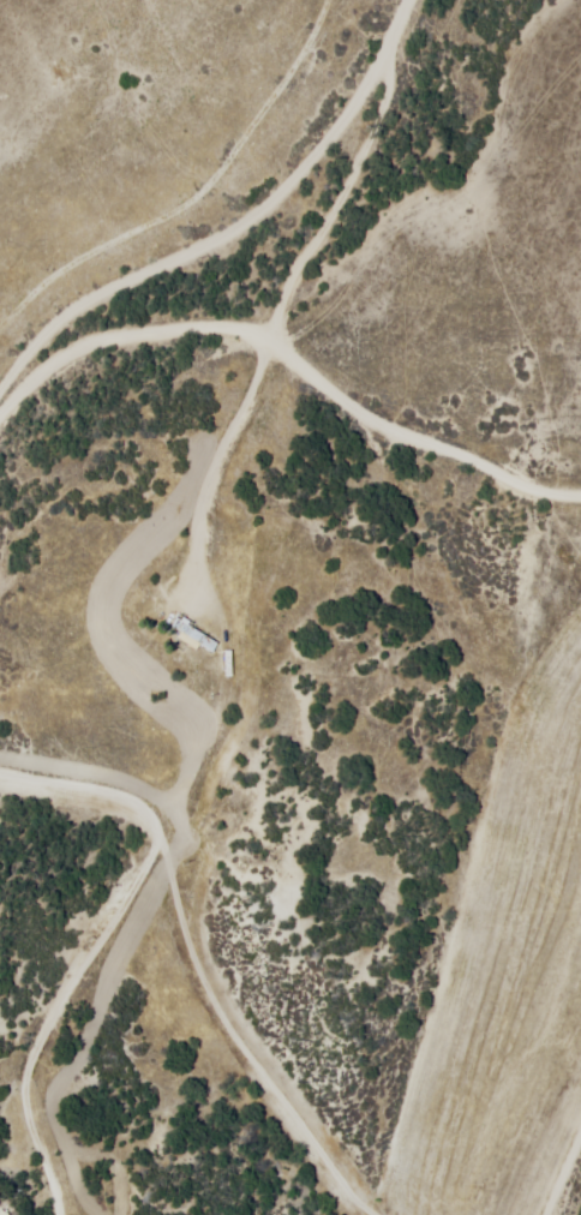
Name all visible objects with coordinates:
road: (241, 222)
road: (277, 319)
road: (130, 335)
road: (409, 441)
building: (190, 633)
road: (97, 935)

